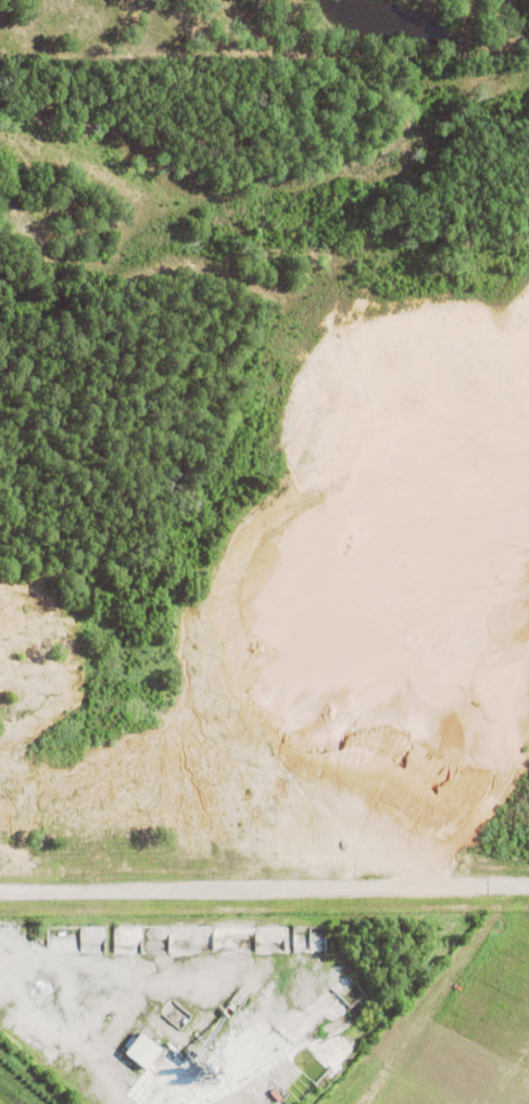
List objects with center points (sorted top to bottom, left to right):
building: (361, 1007)
building: (144, 1051)

